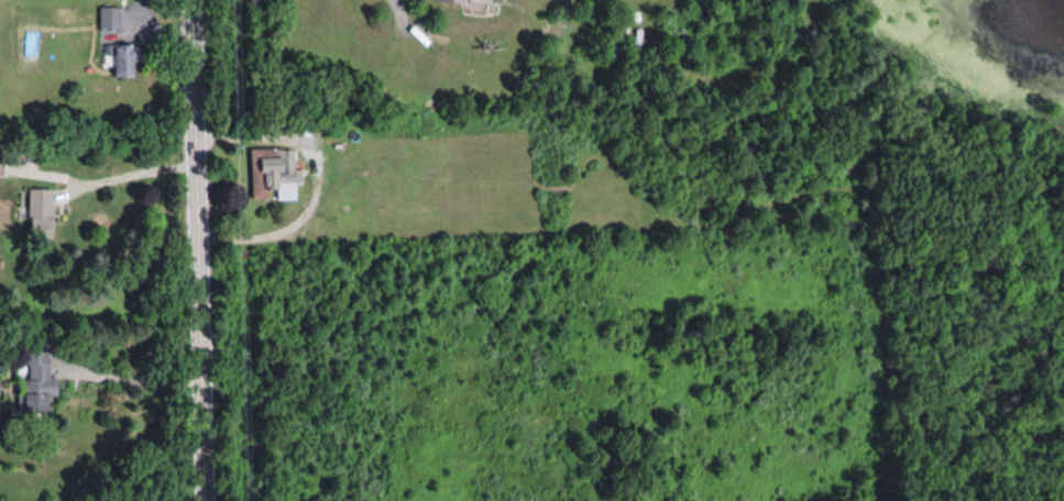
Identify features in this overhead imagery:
building: (480, 0)
building: (111, 18)
building: (125, 58)
building: (1, 162)
road: (317, 171)
building: (274, 172)
road: (135, 174)
building: (42, 210)
road: (196, 250)
building: (37, 377)
road: (139, 378)

